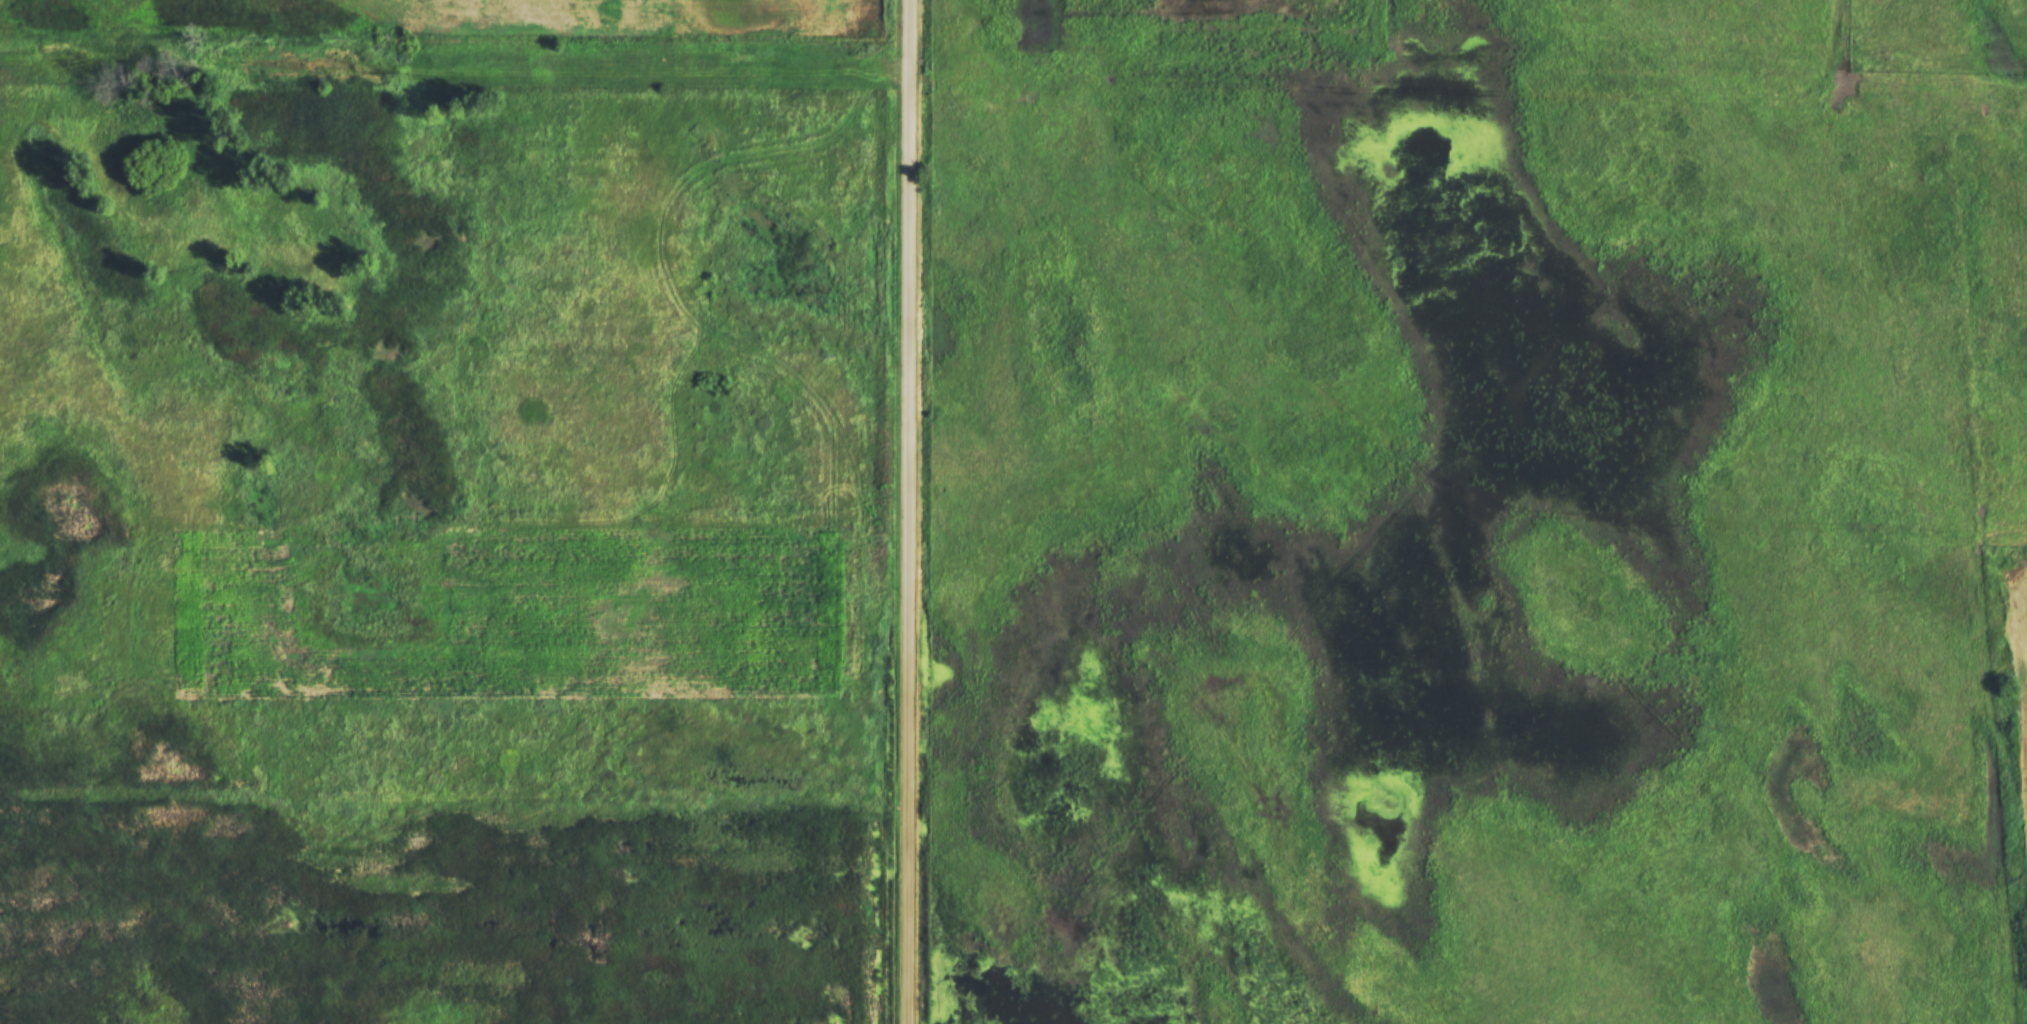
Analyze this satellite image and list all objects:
road: (453, 75)
road: (1468, 94)
road: (1422, 476)
road: (908, 511)

